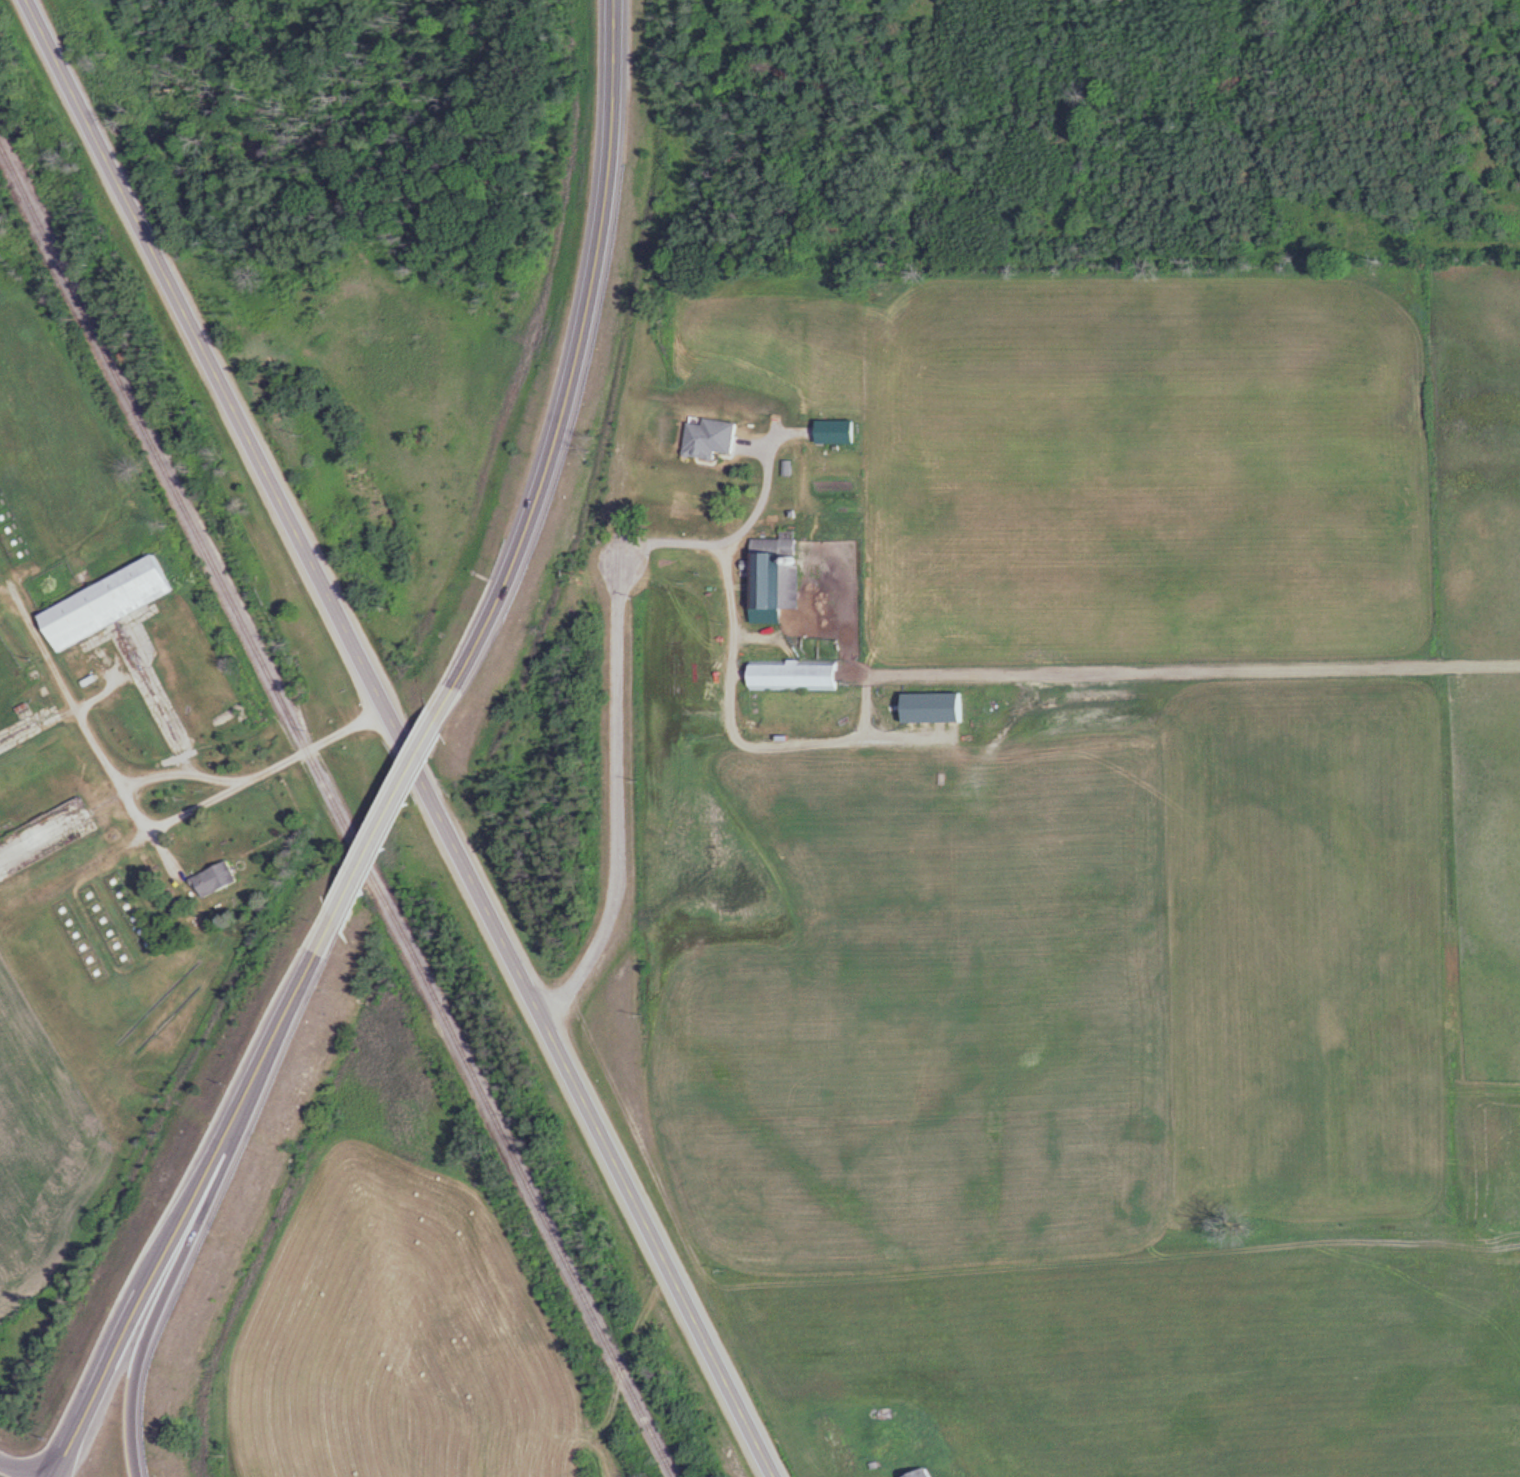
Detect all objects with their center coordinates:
road: (576, 351)
building: (687, 503)
building: (772, 577)
building: (101, 602)
building: (791, 674)
road: (401, 739)
road: (406, 770)
road: (622, 802)
railway: (342, 808)
building: (211, 879)
road: (336, 906)
road: (178, 1215)
road: (136, 1372)
road: (22, 1459)
building: (918, 1472)
road: (49, 1474)

